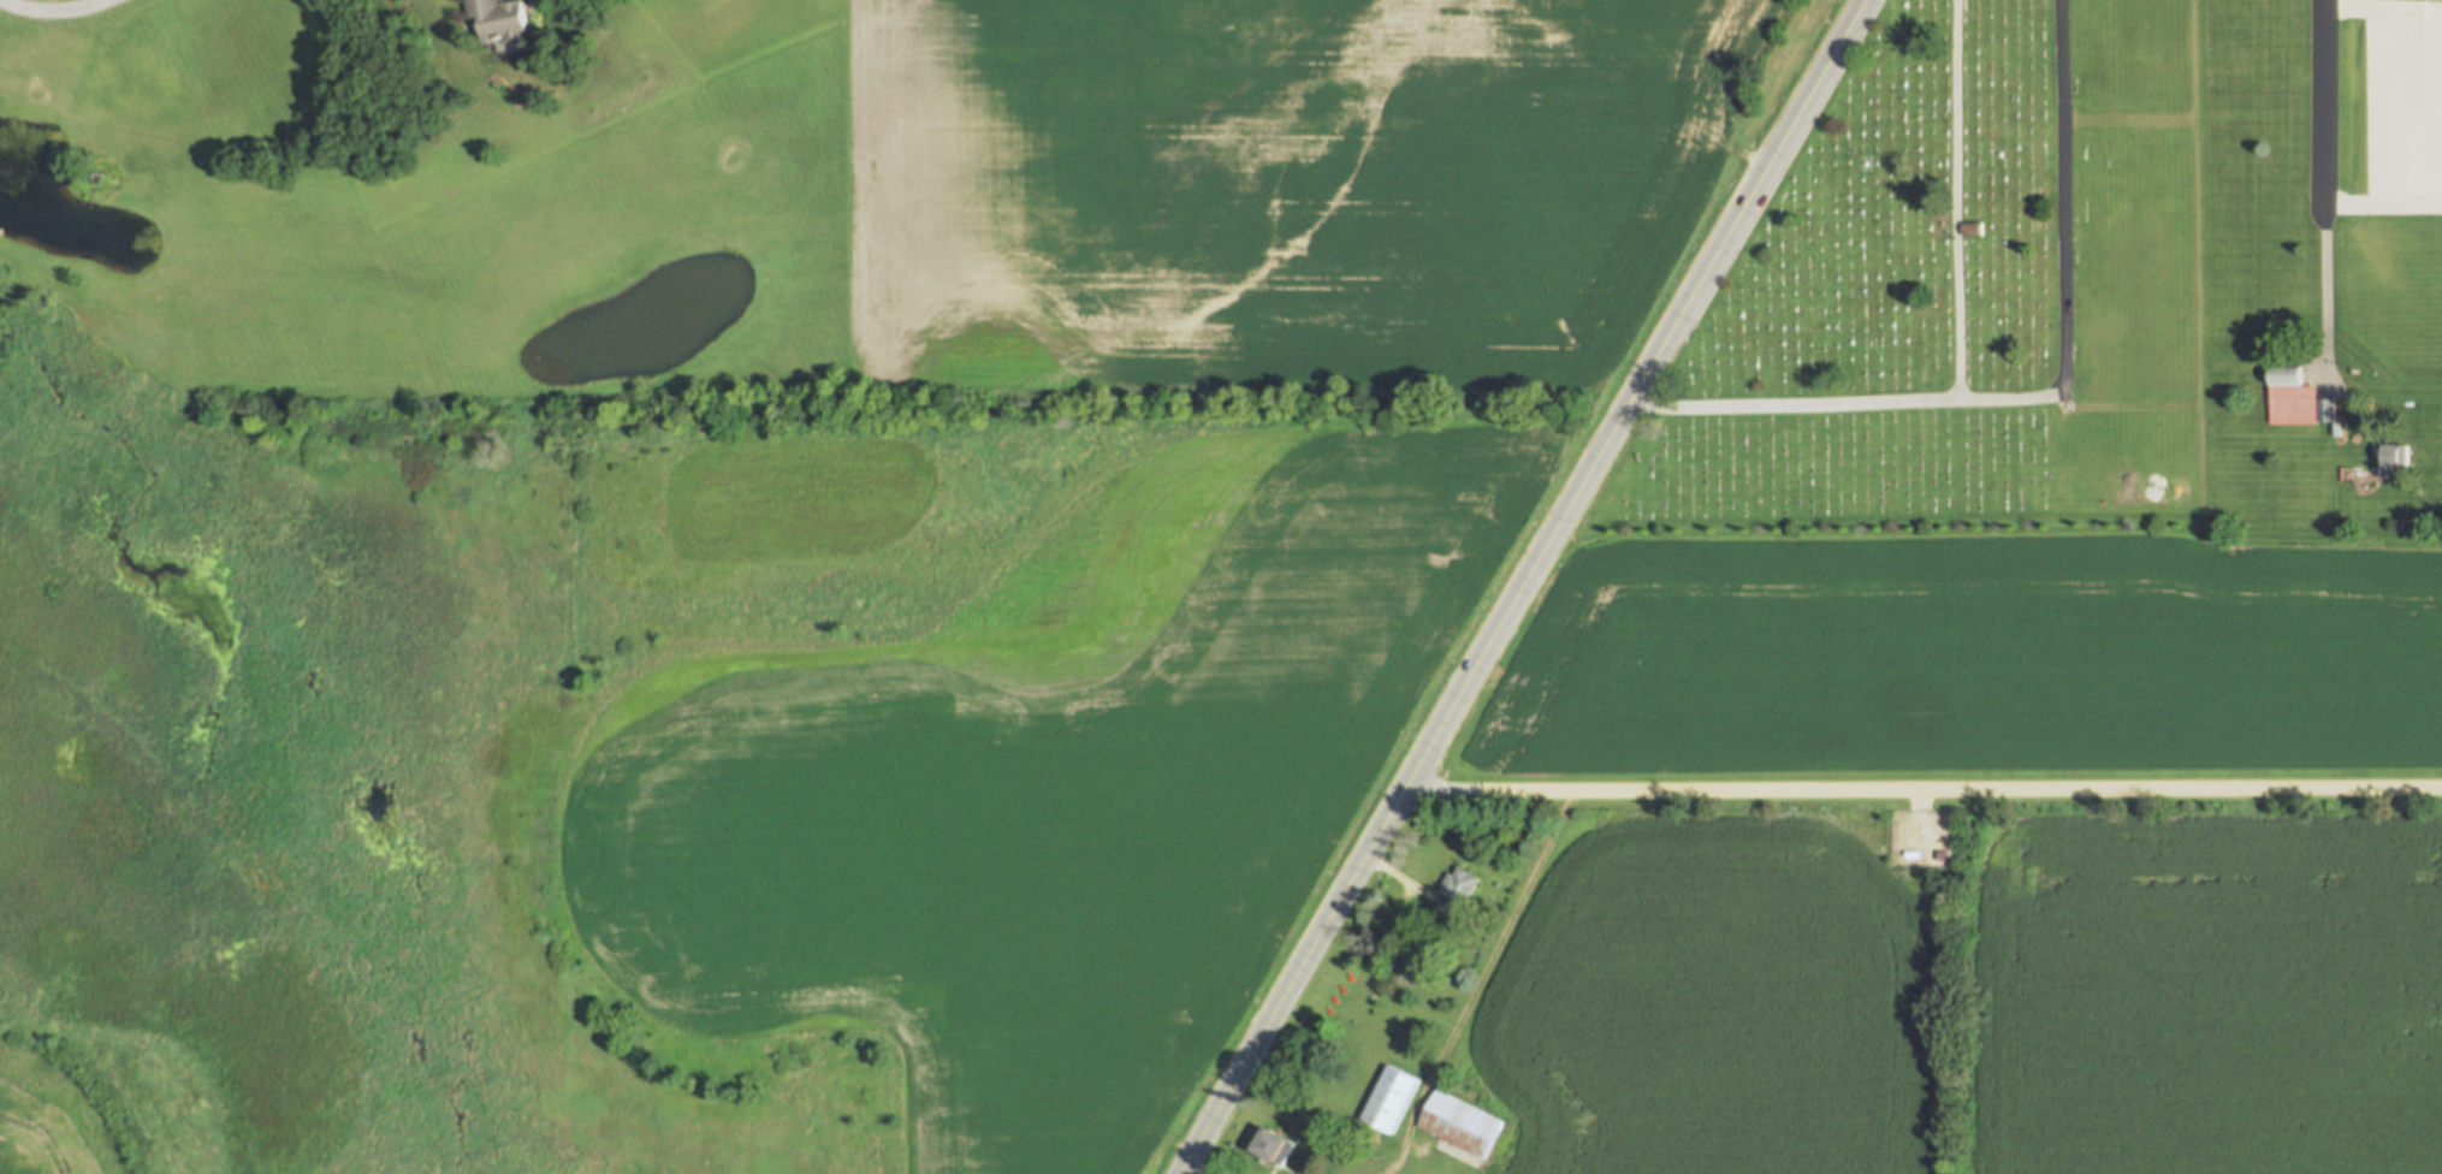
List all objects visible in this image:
road: (53, 11)
building: (504, 19)
building: (2436, 41)
road: (2126, 121)
road: (2324, 178)
road: (2063, 198)
road: (1957, 200)
building: (1975, 229)
road: (2192, 259)
park: (1955, 291)
road: (1679, 313)
building: (2290, 397)
road: (1844, 402)
road: (2126, 408)
building: (2325, 409)
building: (2395, 459)
road: (1920, 790)
road: (1397, 878)
building: (1457, 890)
road: (1338, 900)
road: (1478, 982)
building: (1445, 1078)
building: (1387, 1098)
building: (1460, 1122)
building: (1273, 1142)
road: (1190, 1169)

